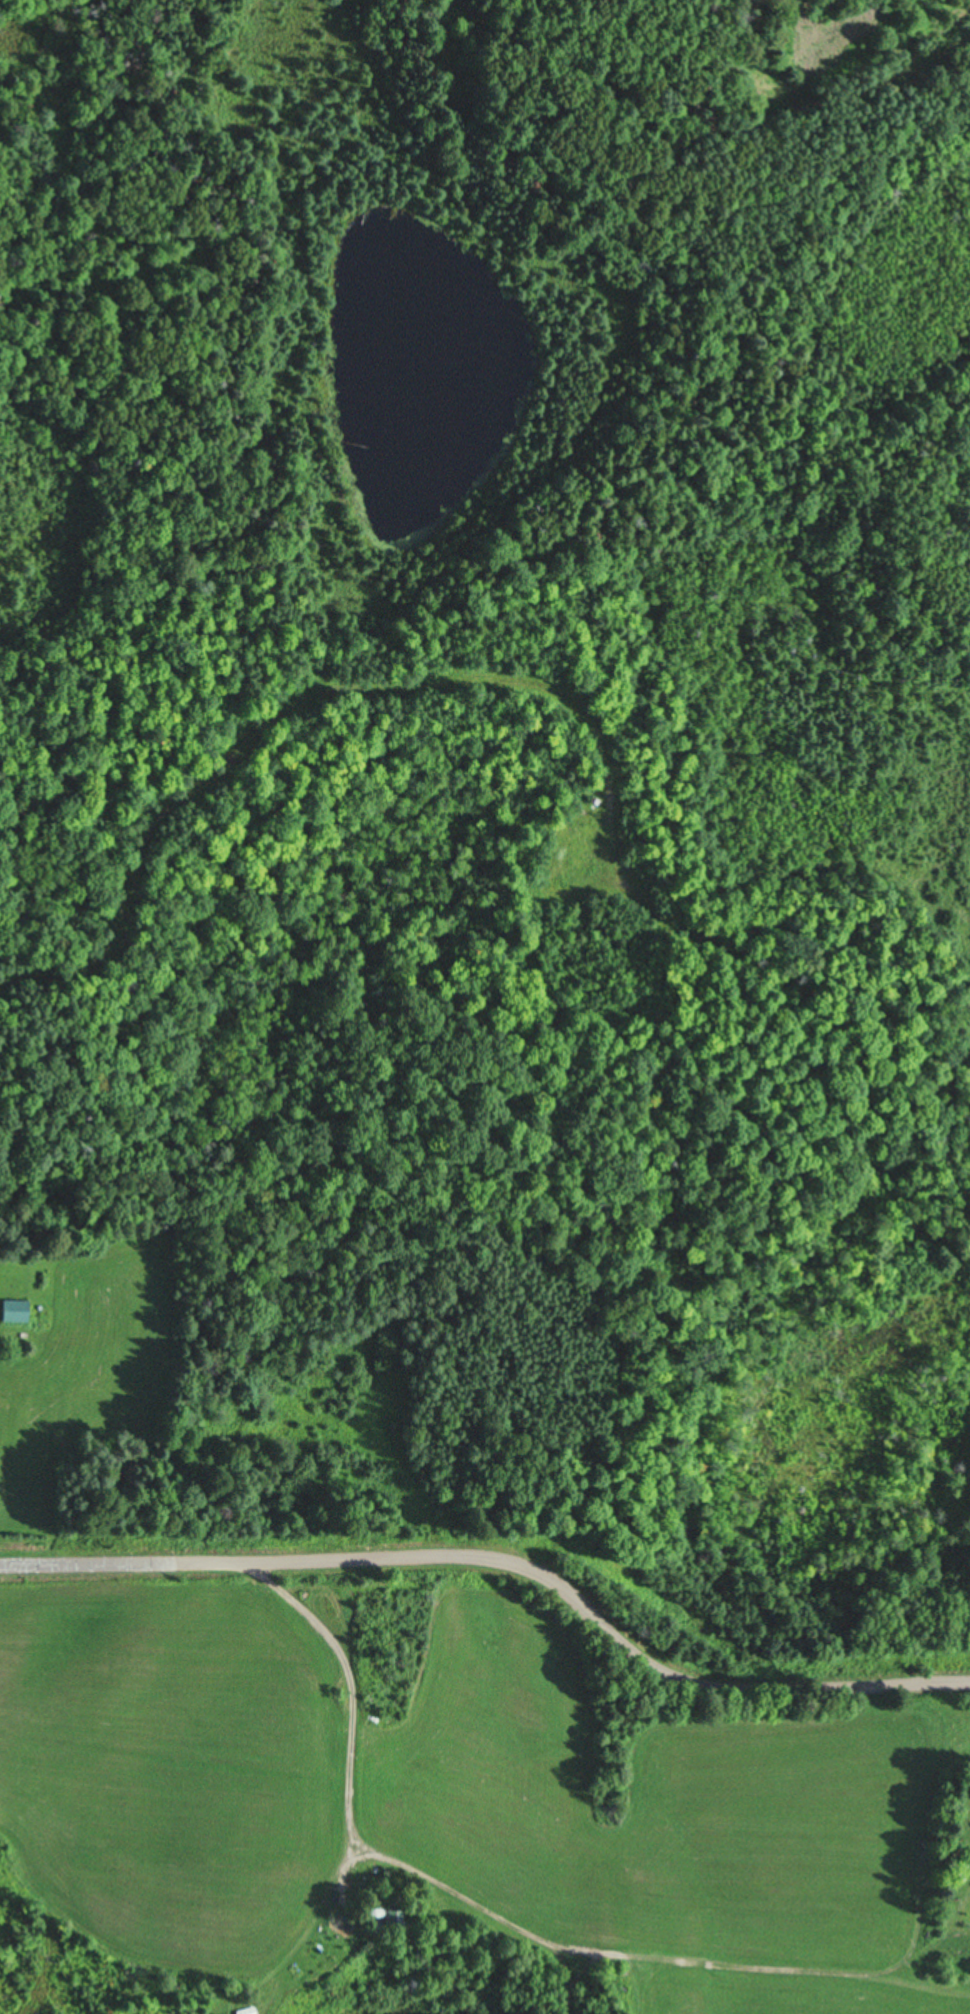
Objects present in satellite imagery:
building: (15, 1312)
road: (495, 1571)
building: (958, 1867)

